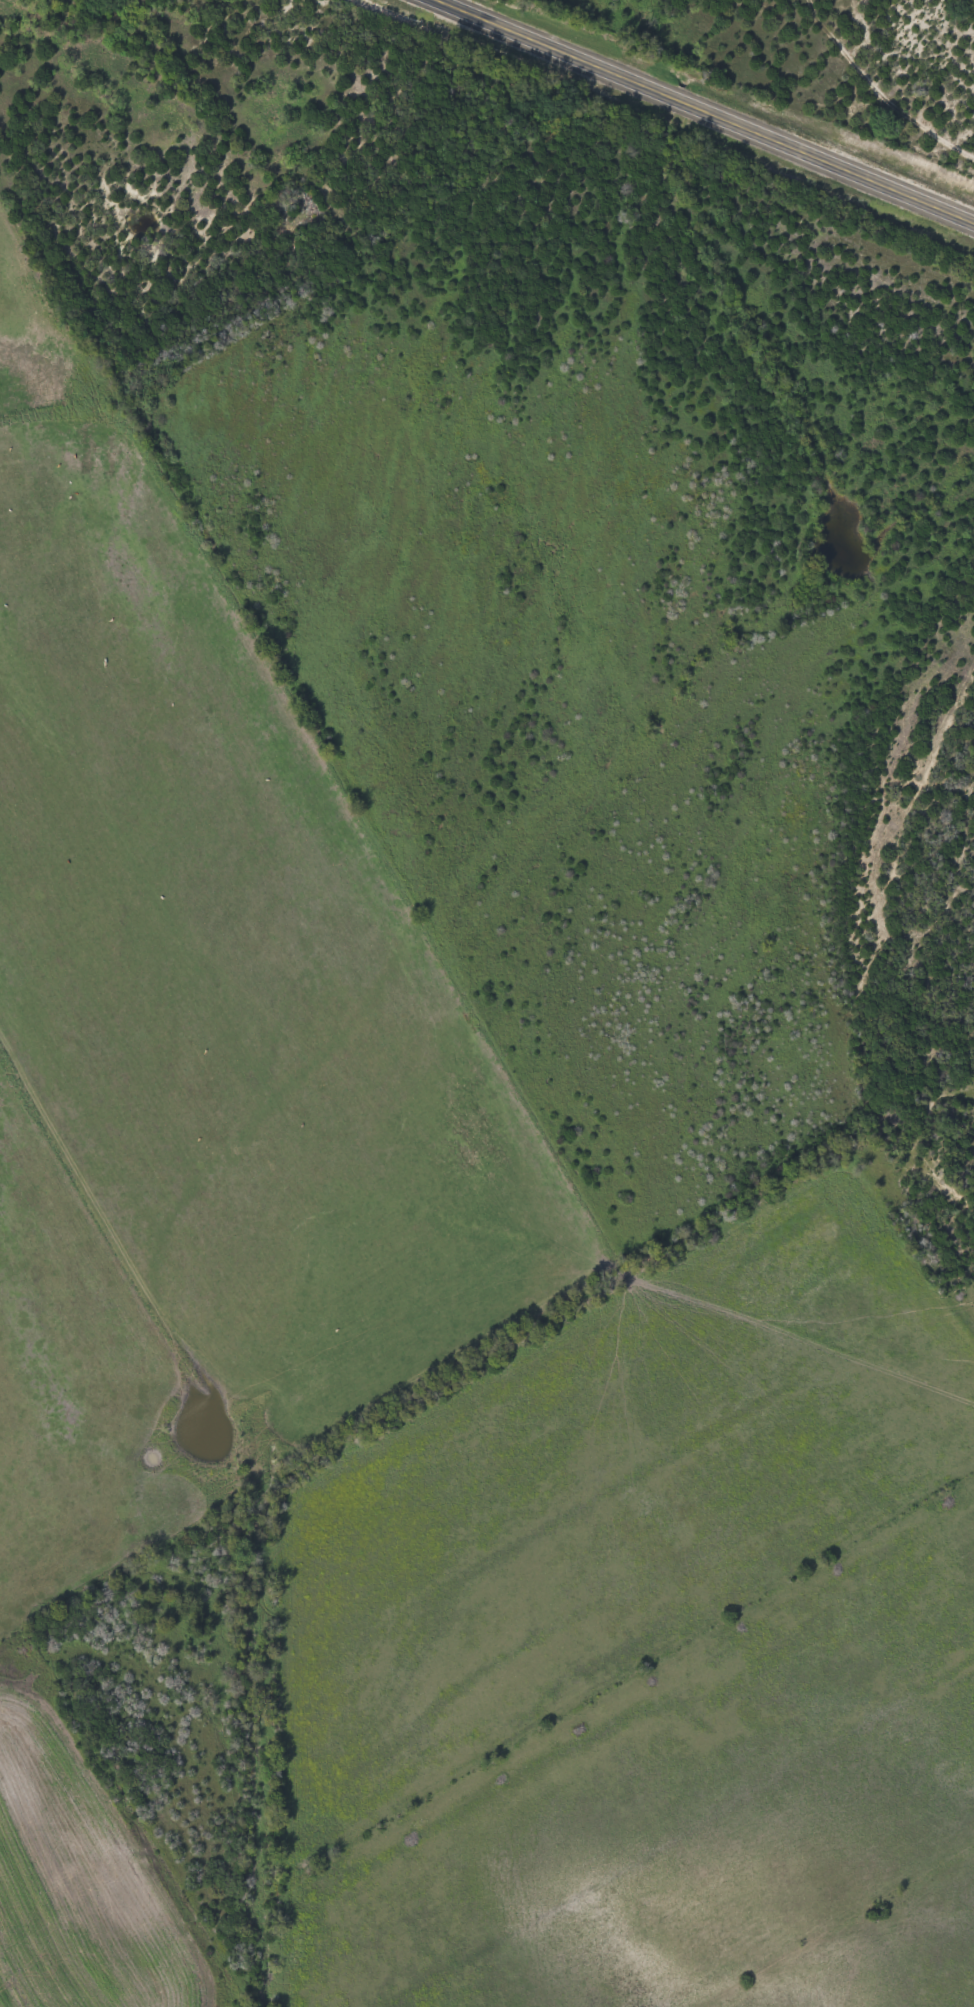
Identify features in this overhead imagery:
road: (712, 108)

